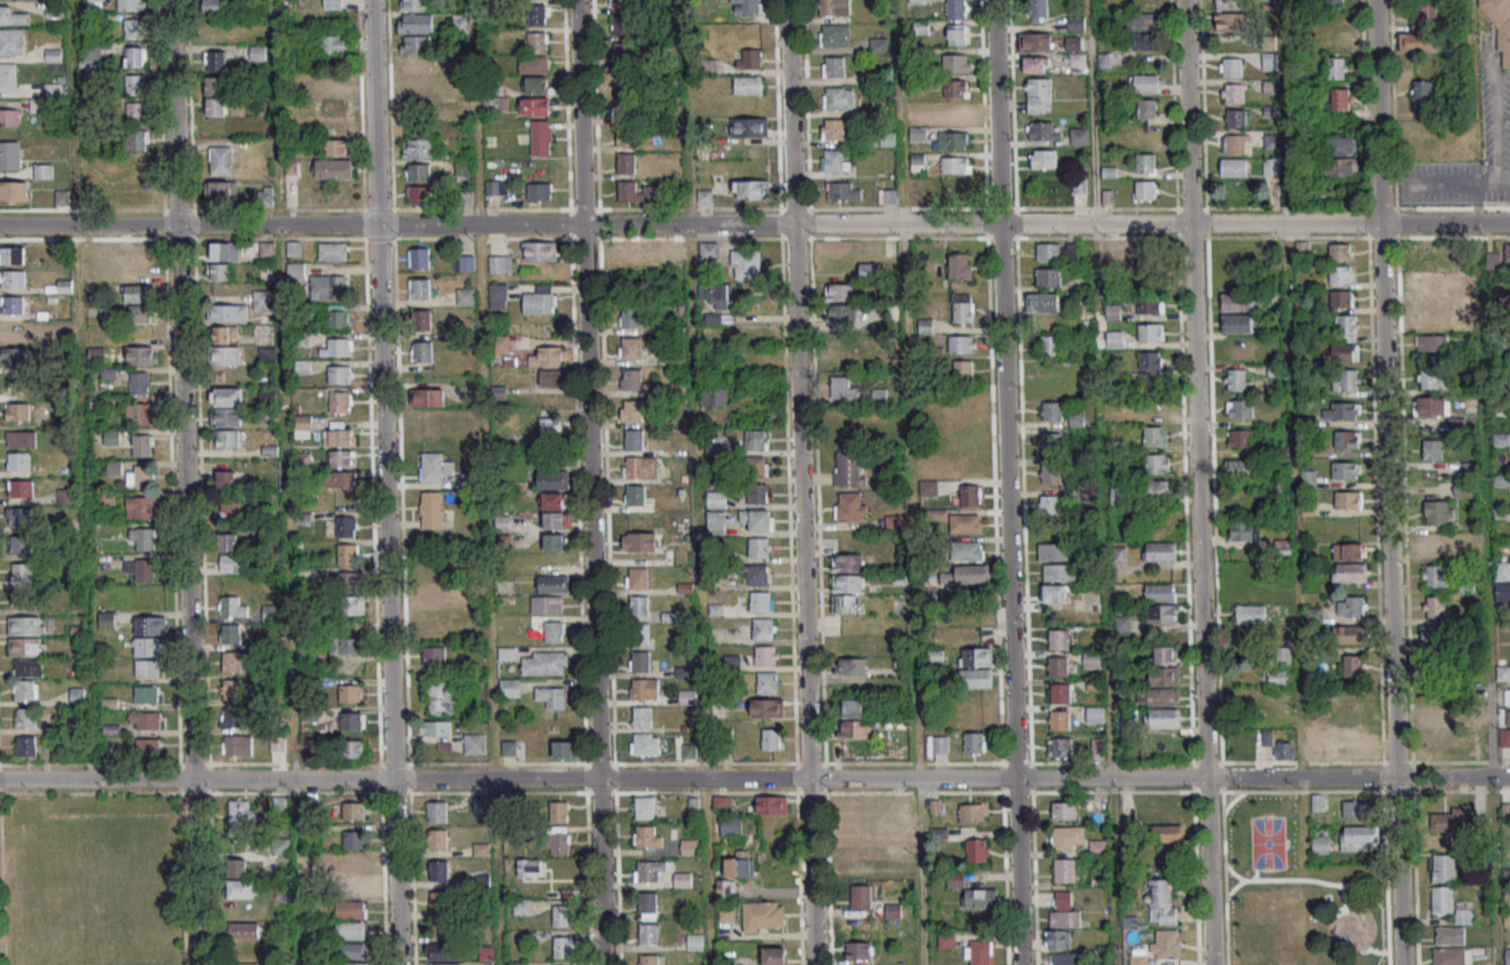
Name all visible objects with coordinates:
building: (1138, 1)
building: (1335, 1)
building: (624, 3)
building: (94, 4)
building: (333, 4)
building: (131, 5)
building: (413, 5)
building: (1229, 5)
building: (212, 6)
building: (746, 6)
building: (833, 7)
building: (55, 9)
building: (956, 9)
building: (1038, 10)
building: (1424, 13)
building: (535, 15)
building: (13, 16)
building: (1140, 21)
building: (1229, 22)
building: (415, 23)
building: (460, 24)
building: (1075, 24)
building: (625, 25)
building: (1499, 25)
building: (133, 29)
building: (956, 34)
building: (835, 35)
building: (12, 42)
building: (536, 42)
building: (1036, 42)
building: (1143, 42)
building: (1417, 43)
building: (333, 44)
building: (415, 44)
building: (878, 45)
building: (622, 53)
building: (53, 55)
building: (135, 57)
building: (748, 59)
building: (90, 60)
building: (215, 61)
building: (956, 62)
building: (1270, 63)
building: (533, 64)
building: (1036, 64)
building: (416, 65)
building: (834, 67)
building: (1231, 67)
building: (1338, 68)
building: (8, 77)
building: (624, 80)
building: (1146, 83)
building: (134, 84)
building: (415, 85)
building: (537, 85)
building: (748, 85)
building: (956, 88)
building: (1233, 93)
building: (1421, 93)
building: (1038, 95)
building: (215, 96)
building: (334, 96)
building: (838, 99)
building: (1340, 99)
building: (491, 104)
building: (535, 106)
building: (624, 107)
building: (1146, 108)
building: (136, 112)
building: (957, 114)
building: (9, 117)
building: (1236, 118)
building: (746, 126)
building: (1420, 126)
building: (336, 127)
building: (832, 129)
building: (1044, 130)
building: (626, 135)
building: (1079, 136)
building: (540, 137)
building: (137, 139)
building: (953, 139)
building: (1235, 144)
building: (1341, 146)
building: (337, 147)
building: (420, 147)
building: (10, 155)
building: (1043, 158)
building: (220, 160)
building: (835, 161)
building: (626, 163)
building: (1145, 163)
building: (954, 164)
building: (137, 167)
building: (1231, 167)
building: (1341, 167)
building: (333, 169)
building: (44, 171)
building: (464, 171)
building: (418, 172)
building: (750, 189)
building: (14, 190)
building: (222, 190)
building: (1144, 190)
building: (539, 191)
building: (843, 191)
building: (267, 192)
building: (630, 192)
building: (418, 194)
building: (888, 196)
road: (755, 225)
building: (294, 248)
building: (679, 249)
building: (709, 250)
building: (224, 251)
building: (332, 251)
building: (539, 251)
building: (634, 251)
building: (1057, 252)
building: (1340, 252)
building: (1507, 252)
building: (12, 255)
building: (418, 257)
building: (1140, 257)
building: (1493, 260)
building: (137, 263)
building: (463, 263)
building: (500, 263)
building: (746, 264)
building: (960, 266)
building: (296, 270)
building: (219, 271)
building: (871, 271)
building: (1340, 274)
building: (1047, 276)
building: (12, 278)
building: (1465, 280)
building: (1427, 281)
building: (65, 286)
building: (328, 287)
building: (420, 288)
building: (840, 292)
building: (138, 293)
building: (717, 295)
building: (465, 296)
building: (497, 296)
building: (1342, 299)
building: (262, 300)
building: (539, 300)
building: (1507, 301)
building: (1042, 302)
building: (1237, 302)
building: (1465, 303)
building: (12, 304)
building: (1148, 305)
building: (962, 308)
building: (228, 312)
building: (1112, 312)
building: (140, 314)
building: (840, 314)
building: (1428, 316)
building: (337, 317)
building: (632, 317)
building: (718, 318)
building: (421, 320)
building: (1237, 323)
building: (925, 325)
building: (14, 330)
building: (1151, 332)
building: (225, 334)
building: (1115, 339)
building: (1345, 339)
building: (503, 343)
building: (1431, 343)
building: (962, 344)
building: (1051, 345)
building: (337, 347)
building: (630, 348)
building: (421, 351)
building: (838, 351)
building: (142, 354)
building: (267, 354)
building: (225, 355)
building: (14, 356)
building: (548, 356)
building: (1509, 356)
building: (1150, 360)
building: (302, 366)
building: (963, 370)
building: (339, 374)
building: (551, 377)
building: (1433, 378)
building: (631, 379)
building: (1237, 380)
building: (1345, 380)
building: (140, 383)
building: (841, 387)
building: (713, 396)
building: (427, 397)
building: (879, 399)
building: (339, 402)
building: (1151, 405)
building: (1431, 406)
building: (226, 407)
building: (1239, 408)
building: (18, 411)
building: (1052, 411)
building: (1342, 411)
building: (630, 412)
building: (138, 414)
building: (1455, 424)
building: (302, 426)
building: (549, 427)
building: (423, 428)
building: (337, 433)
building: (1154, 435)
building: (112, 437)
building: (228, 438)
building: (1239, 438)
building: (22, 439)
building: (1346, 439)
building: (634, 440)
building: (756, 440)
building: (1051, 443)
building: (142, 446)
building: (1432, 450)
building: (342, 458)
building: (19, 460)
building: (1156, 463)
building: (434, 467)
building: (756, 467)
building: (114, 468)
building: (641, 468)
building: (1241, 468)
building: (848, 470)
building: (1346, 470)
building: (1051, 474)
building: (139, 477)
building: (1307, 478)
building: (341, 479)
building: (553, 479)
building: (226, 480)
road: (184, 482)
road: (385, 482)
road: (486, 482)
road: (590, 482)
road: (696, 482)
road: (800, 482)
road: (1007, 482)
road: (1198, 482)
road: (1387, 482)
building: (1503, 482)
building: (928, 487)
building: (21, 488)
building: (1159, 489)
building: (757, 494)
building: (66, 495)
building: (634, 495)
building: (970, 495)
building: (1119, 496)
building: (716, 499)
road: (1297, 500)
building: (1348, 500)
road: (1485, 501)
building: (1049, 503)
building: (232, 504)
building: (139, 507)
building: (850, 507)
building: (431, 510)
building: (1438, 512)
building: (18, 516)
building: (757, 519)
building: (555, 520)
building: (895, 522)
building: (715, 523)
building: (965, 523)
building: (346, 526)
building: (1244, 531)
building: (143, 539)
building: (640, 541)
building: (228, 542)
building: (23, 544)
building: (1434, 544)
building: (758, 547)
building: (966, 551)
building: (1160, 551)
building: (1348, 551)
building: (1053, 552)
building: (347, 554)
building: (847, 562)
building: (234, 564)
building: (142, 569)
building: (1502, 570)
building: (22, 571)
building: (1059, 572)
building: (1349, 572)
building: (756, 573)
building: (971, 574)
building: (1435, 576)
building: (637, 577)
building: (344, 579)
building: (553, 583)
building: (848, 584)
building: (1055, 593)
building: (1161, 593)
building: (1502, 593)
building: (434, 595)
building: (25, 599)
building: (761, 601)
building: (546, 604)
building: (845, 604)
building: (231, 606)
building: (351, 606)
building: (638, 606)
building: (1350, 606)
building: (1433, 607)
building: (1162, 614)
building: (1250, 614)
building: (149, 625)
building: (26, 626)
building: (433, 627)
building: (763, 628)
building: (554, 631)
building: (230, 633)
building: (1351, 634)
building: (1058, 639)
building: (344, 645)
building: (849, 645)
building: (26, 646)
building: (150, 646)
building: (434, 655)
building: (766, 655)
building: (1165, 655)
building: (974, 657)
building: (1091, 659)
building: (639, 661)
building: (231, 662)
building: (544, 663)
building: (1276, 665)
building: (1058, 666)
building: (1352, 666)
building: (28, 667)
building: (852, 667)
building: (147, 668)
building: (1164, 676)
building: (975, 678)
building: (767, 682)
building: (232, 689)
building: (644, 689)
building: (26, 690)
building: (351, 693)
building: (1060, 693)
building: (146, 694)
building: (77, 695)
building: (1157, 696)
building: (1507, 696)
building: (441, 697)
building: (552, 697)
building: (767, 708)
building: (852, 708)
building: (1095, 715)
building: (233, 717)
building: (642, 717)
building: (26, 718)
building: (1164, 718)
building: (1437, 718)
building: (1508, 718)
building: (145, 720)
building: (1060, 720)
building: (351, 721)
building: (435, 728)
building: (853, 729)
building: (771, 739)
building: (1348, 741)
building: (973, 743)
building: (474, 744)
building: (645, 744)
building: (940, 744)
building: (26, 745)
building: (238, 745)
building: (1060, 747)
building: (148, 748)
building: (352, 749)
building: (562, 750)
building: (1284, 750)
road: (1382, 762)
road: (755, 779)
road: (1111, 792)
building: (720, 802)
building: (1318, 802)
building: (771, 804)
building: (644, 807)
building: (1354, 809)
building: (353, 811)
building: (558, 811)
building: (1063, 811)
building: (436, 812)
building: (974, 812)
building: (240, 817)
building: (1447, 823)
building: (1478, 824)
building: (731, 825)
building: (897, 825)
building: (1168, 833)
building: (646, 837)
building: (1067, 838)
building: (1359, 838)
building: (353, 839)
building: (437, 839)
building: (560, 841)
building: (1320, 842)
building: (689, 847)
building: (855, 847)
building: (1097, 847)
road: (1194, 849)
building: (977, 850)
building: (740, 864)
building: (352, 865)
building: (237, 867)
building: (855, 867)
building: (529, 868)
building: (1444, 868)
building: (438, 870)
building: (648, 870)
building: (1063, 870)
road: (923, 872)
building: (1505, 875)
road: (1224, 878)
building: (682, 879)
building: (483, 880)
building: (955, 880)
building: (243, 888)
building: (351, 889)
building: (725, 889)
park: (1296, 891)
building: (860, 897)
building: (980, 898)
building: (438, 901)
building: (1161, 902)
building: (647, 905)
building: (1451, 905)
building: (522, 906)
building: (350, 910)
building: (1064, 912)
building: (726, 913)
building: (561, 916)
building: (763, 916)
building: (1506, 919)
building: (244, 930)
building: (351, 930)
building: (647, 934)
building: (1449, 935)
building: (1057, 939)
building: (694, 941)
building: (1166, 944)
building: (563, 947)
building: (352, 950)
building: (859, 950)
building: (442, 951)
building: (979, 952)
building: (774, 956)
building: (1450, 956)
building: (1508, 958)
building: (1065, 959)
building: (1138, 959)
building: (648, 960)
building: (246, 963)
building: (360, 963)
building: (518, 963)
building: (445, 964)

